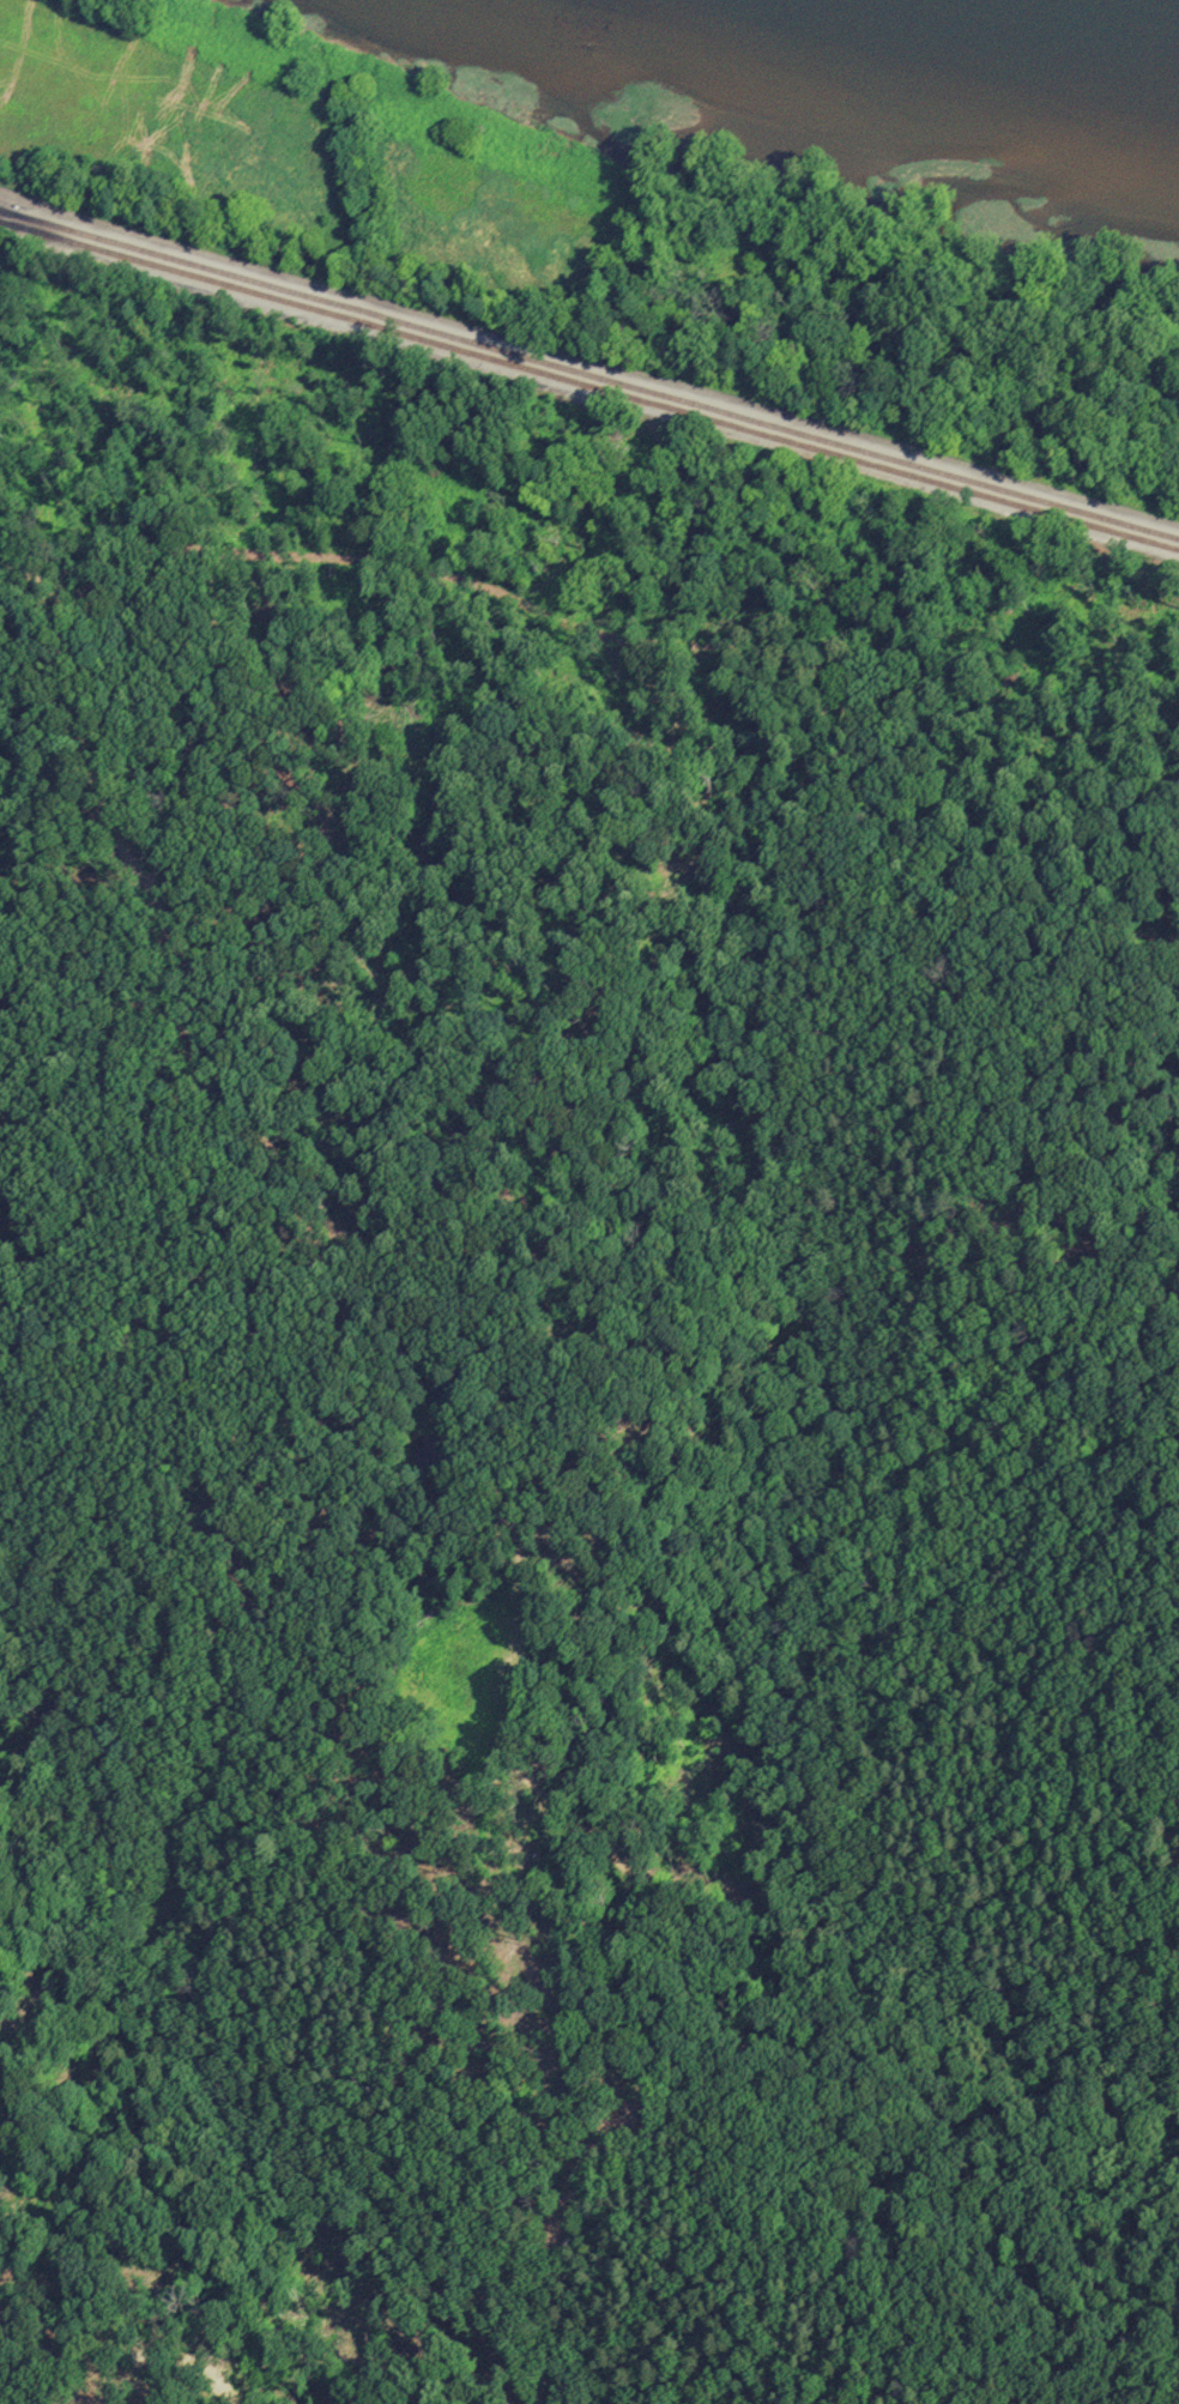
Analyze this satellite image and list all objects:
river: (959, 53)
road: (589, 356)
railway: (589, 374)
railway: (589, 385)

